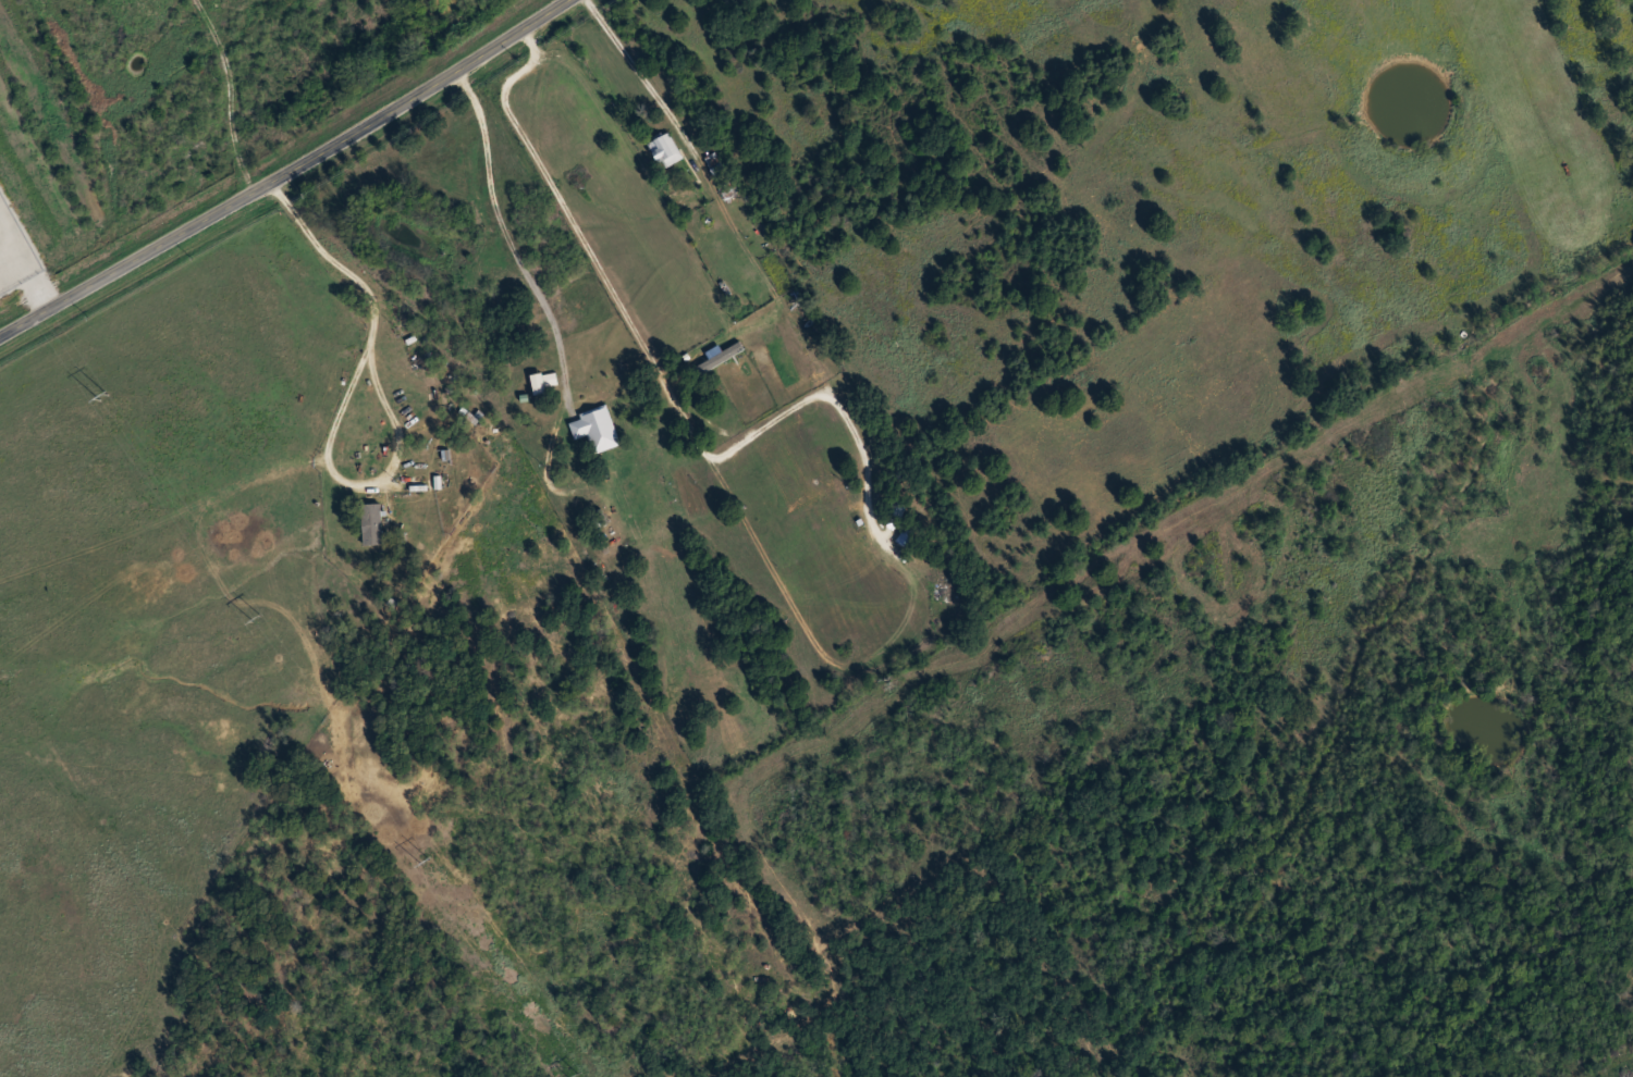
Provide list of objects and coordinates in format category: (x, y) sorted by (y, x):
road: (651, 88)
building: (667, 150)
road: (286, 175)
road: (521, 260)
road: (654, 363)
road: (342, 403)
building: (598, 426)
building: (372, 522)

